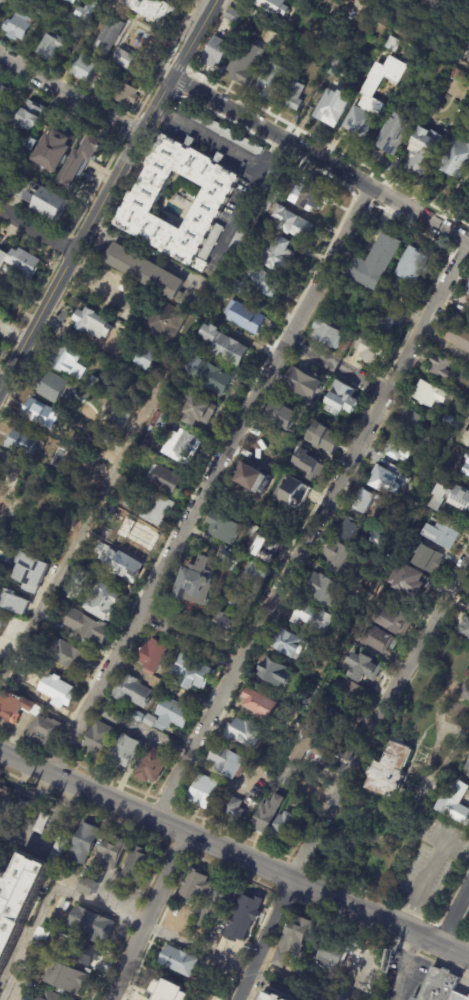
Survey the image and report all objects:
road: (0, 0)
building: (64, 0)
building: (71, 1)
building: (273, 6)
building: (43, 9)
building: (86, 10)
building: (147, 10)
building: (232, 16)
building: (16, 26)
building: (385, 28)
building: (75, 36)
building: (108, 36)
road: (412, 36)
building: (270, 37)
building: (293, 40)
road: (306, 43)
building: (49, 46)
building: (216, 50)
building: (313, 51)
building: (123, 58)
building: (245, 63)
road: (177, 66)
building: (82, 67)
building: (335, 67)
building: (440, 72)
building: (453, 73)
building: (109, 75)
building: (272, 79)
building: (368, 82)
road: (70, 92)
building: (292, 92)
building: (126, 94)
building: (5, 95)
building: (332, 108)
building: (30, 114)
building: (363, 121)
building: (219, 129)
building: (393, 134)
building: (31, 143)
road: (222, 145)
building: (52, 150)
building: (423, 152)
building: (21, 159)
building: (456, 160)
building: (79, 161)
road: (319, 161)
building: (4, 163)
road: (120, 170)
building: (268, 183)
building: (21, 188)
building: (315, 195)
building: (44, 200)
building: (270, 202)
building: (141, 204)
road: (240, 212)
building: (293, 223)
road: (38, 229)
building: (233, 248)
road: (144, 251)
building: (277, 254)
building: (3, 258)
building: (25, 261)
building: (375, 261)
building: (416, 263)
building: (144, 271)
building: (216, 278)
building: (263, 281)
road: (97, 285)
building: (392, 285)
building: (236, 286)
building: (467, 288)
parking lot: (116, 290)
building: (379, 300)
building: (468, 301)
building: (246, 317)
building: (387, 320)
building: (164, 321)
building: (92, 324)
building: (364, 330)
building: (327, 334)
building: (459, 336)
building: (125, 343)
building: (225, 345)
building: (371, 347)
building: (179, 353)
building: (145, 357)
building: (69, 362)
road: (13, 365)
road: (335, 366)
building: (441, 368)
building: (209, 376)
building: (93, 382)
building: (304, 382)
building: (51, 387)
building: (430, 394)
building: (340, 399)
building: (309, 403)
building: (165, 404)
building: (198, 408)
building: (40, 413)
building: (282, 415)
building: (120, 418)
building: (160, 419)
building: (410, 420)
building: (451, 421)
building: (106, 439)
building: (323, 439)
building: (24, 443)
building: (183, 446)
building: (399, 447)
building: (306, 462)
building: (55, 465)
building: (466, 469)
building: (276, 470)
building: (252, 478)
building: (465, 478)
building: (165, 479)
building: (390, 479)
building: (11, 481)
road: (208, 481)
building: (289, 491)
building: (451, 495)
building: (120, 499)
building: (365, 501)
building: (6, 507)
building: (157, 509)
building: (106, 512)
road: (86, 517)
building: (67, 520)
building: (225, 528)
building: (349, 530)
road: (308, 531)
building: (442, 533)
building: (141, 537)
building: (380, 537)
building: (264, 549)
building: (338, 556)
building: (232, 559)
building: (428, 559)
building: (122, 565)
building: (30, 572)
building: (100, 572)
building: (257, 572)
building: (409, 581)
building: (198, 583)
building: (75, 584)
building: (325, 590)
building: (383, 597)
building: (243, 599)
building: (14, 601)
building: (104, 602)
building: (312, 618)
building: (393, 620)
building: (21, 622)
building: (227, 623)
building: (11, 624)
building: (88, 627)
building: (466, 630)
road: (187, 638)
building: (378, 640)
building: (286, 643)
building: (153, 656)
building: (69, 657)
building: (362, 668)
building: (274, 672)
building: (193, 673)
building: (467, 673)
building: (320, 680)
building: (157, 684)
building: (57, 691)
building: (133, 692)
building: (464, 692)
building: (350, 693)
building: (306, 698)
building: (258, 704)
building: (15, 708)
building: (173, 714)
building: (138, 716)
road: (377, 716)
building: (336, 725)
building: (44, 732)
building: (242, 733)
building: (98, 739)
building: (307, 747)
building: (125, 751)
building: (227, 763)
building: (152, 766)
building: (467, 766)
building: (390, 769)
building: (203, 792)
building: (4, 794)
building: (222, 798)
building: (454, 798)
building: (233, 809)
building: (267, 816)
building: (41, 827)
building: (283, 827)
building: (84, 843)
road: (234, 856)
building: (106, 860)
building: (137, 864)
road: (234, 873)
road: (150, 883)
road: (421, 884)
building: (195, 886)
building: (19, 898)
road: (93, 903)
building: (217, 903)
building: (60, 904)
building: (246, 913)
road: (452, 914)
road: (145, 916)
building: (91, 924)
road: (263, 940)
building: (292, 940)
building: (67, 946)
building: (330, 956)
building: (179, 962)
road: (404, 967)
building: (65, 979)
building: (438, 985)
building: (171, 989)
building: (51, 996)
building: (266, 996)
building: (458, 996)
building: (143, 999)

